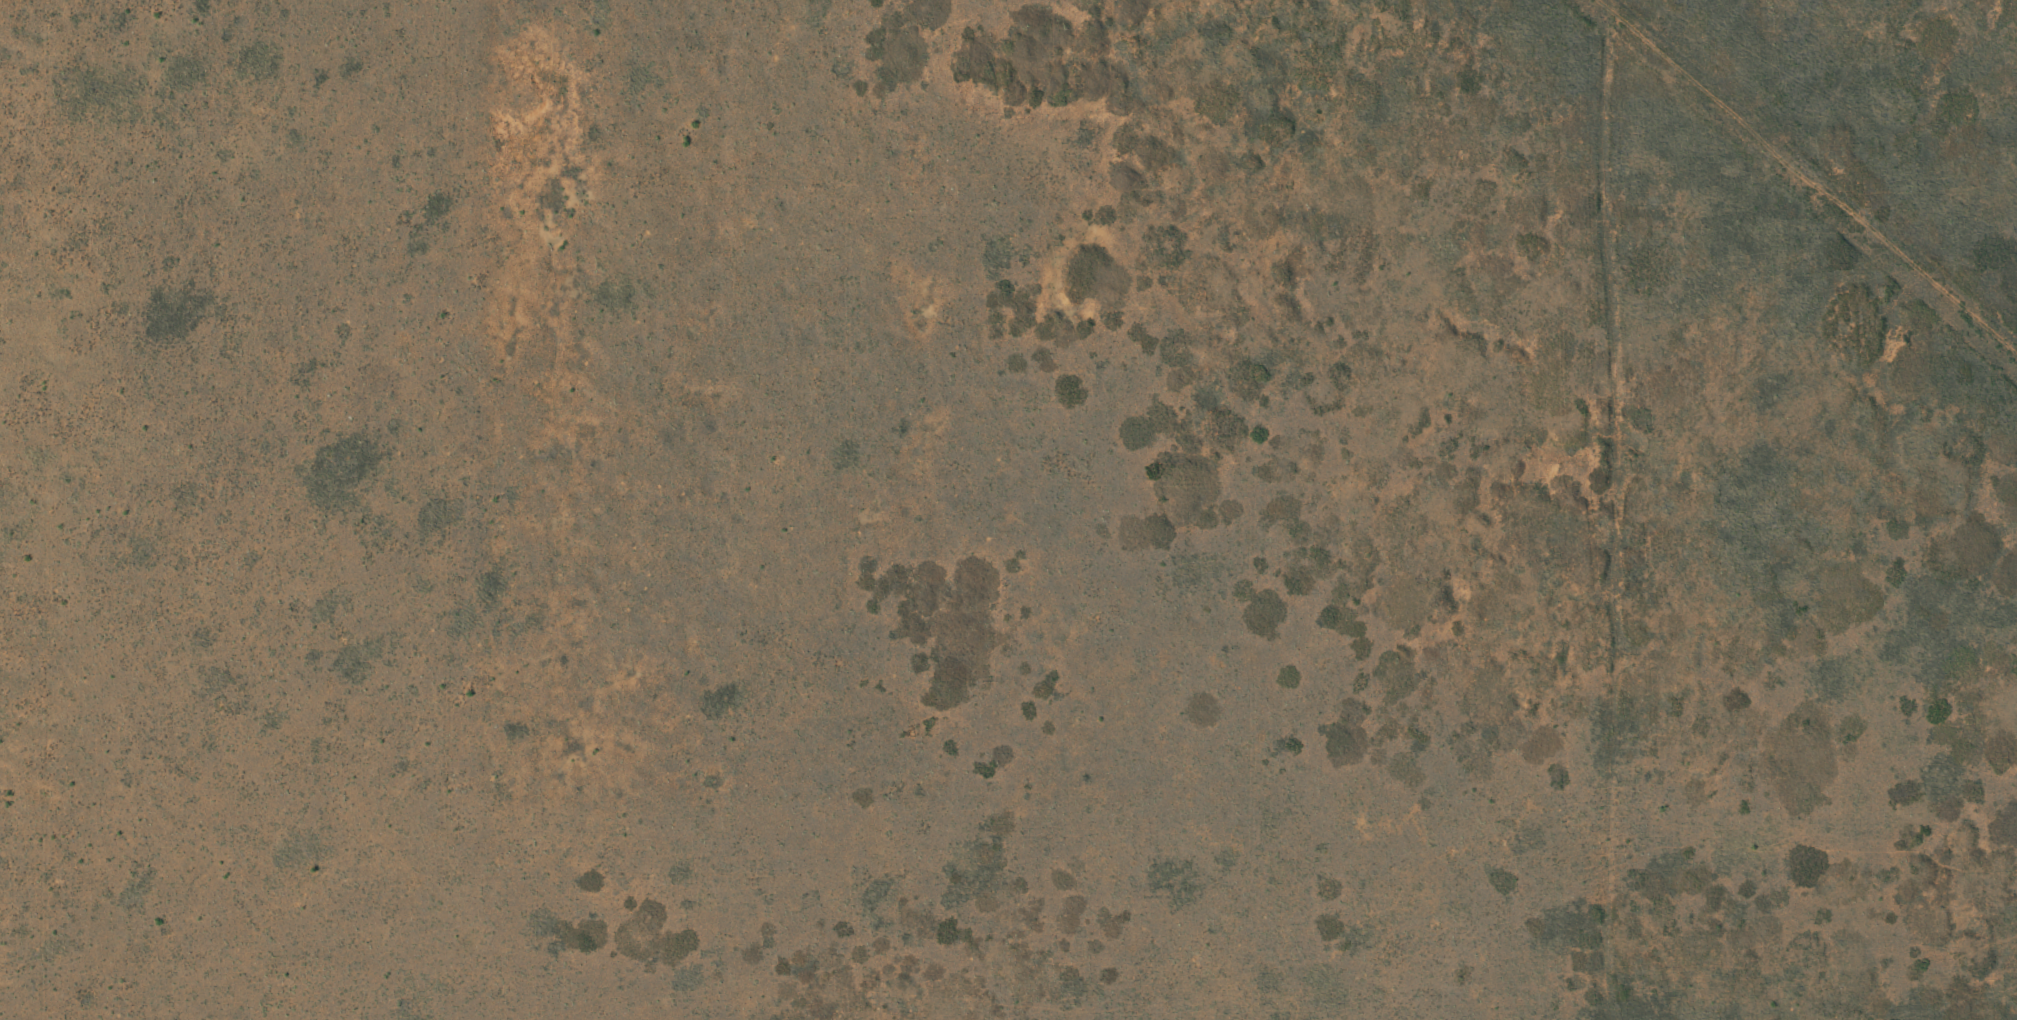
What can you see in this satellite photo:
road: (1642, 510)

